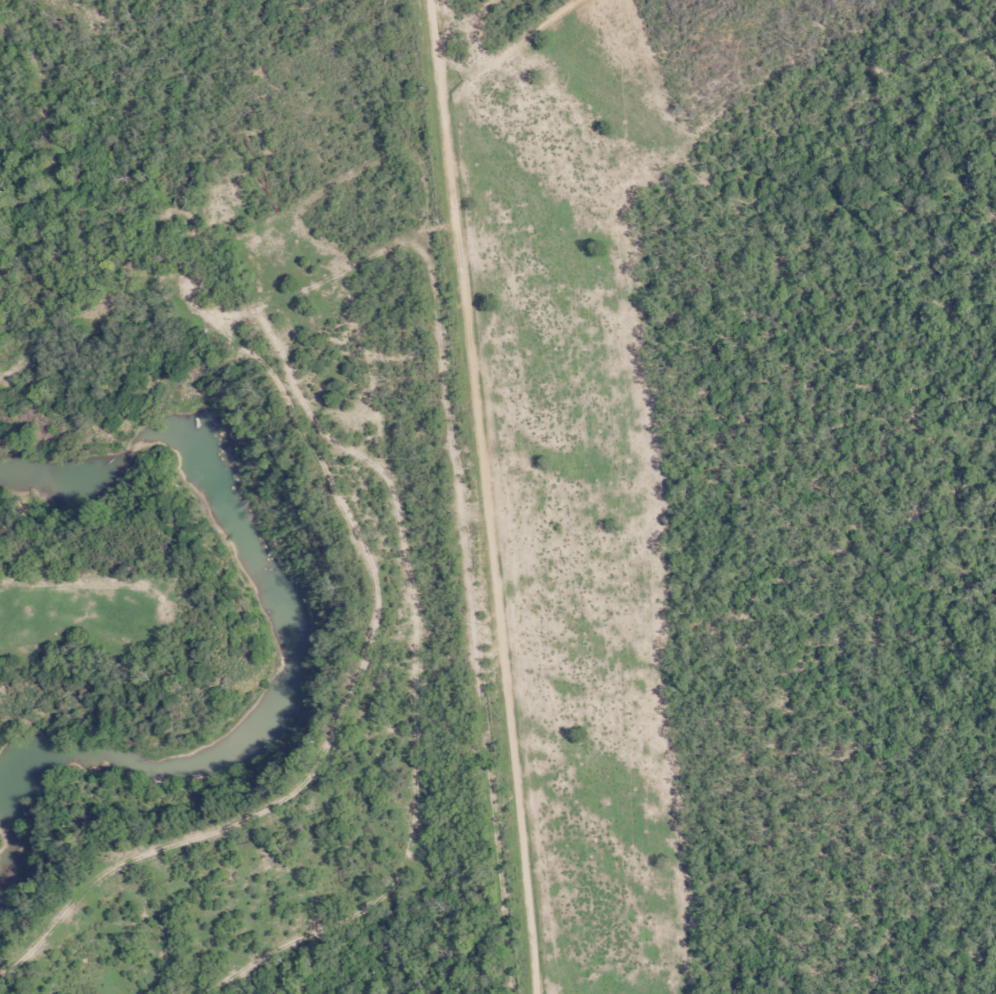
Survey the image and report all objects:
road: (483, 76)
road: (497, 541)
road: (175, 652)
river: (279, 657)

